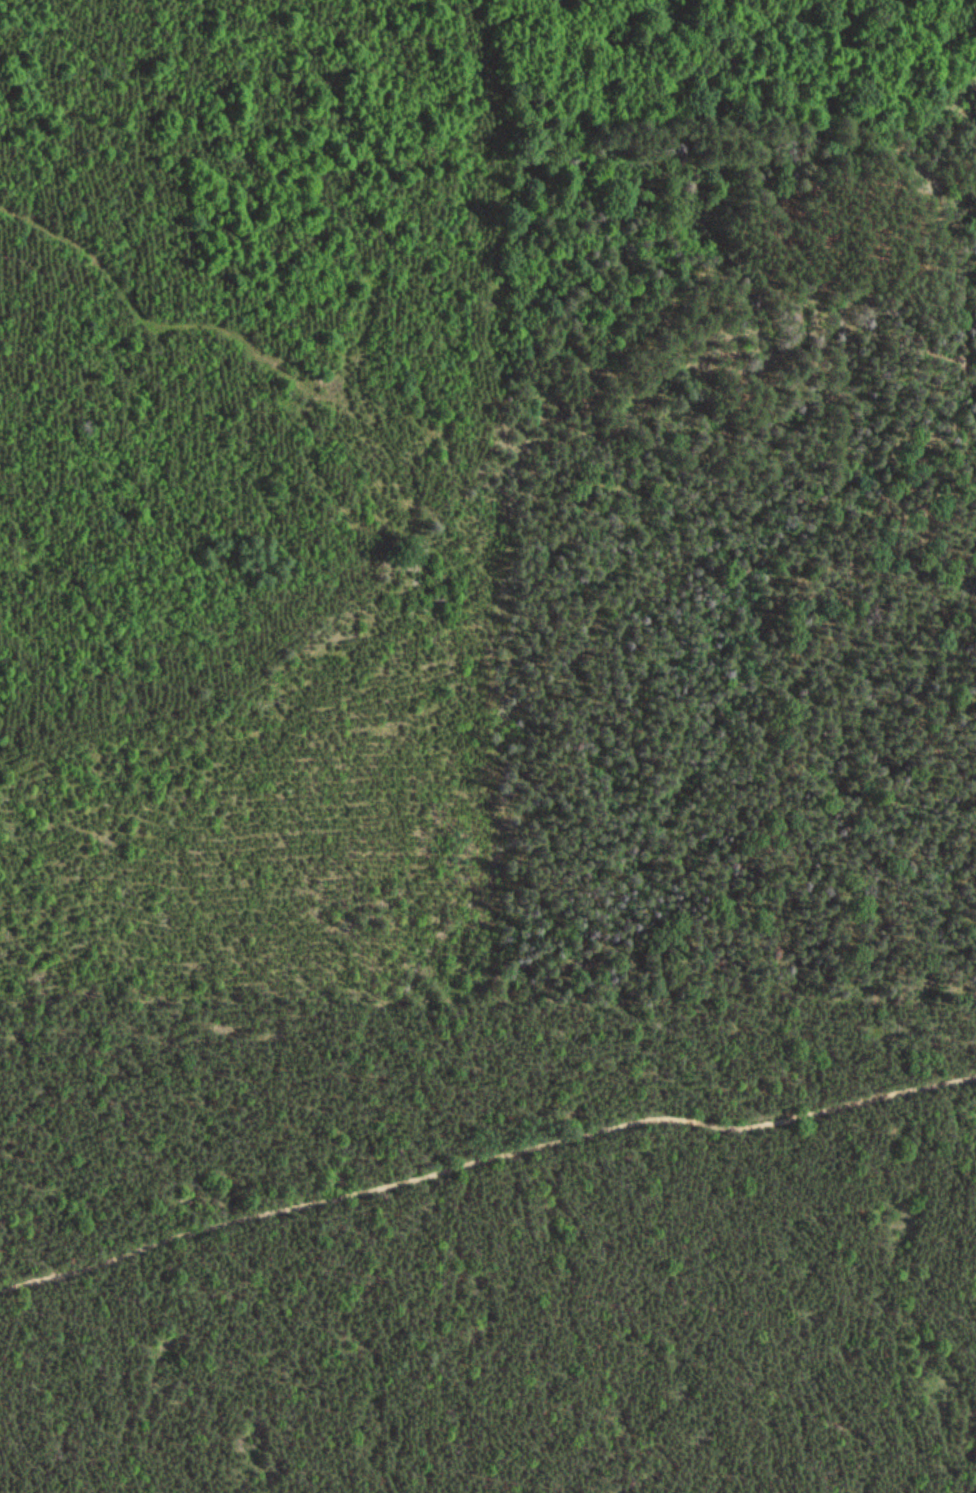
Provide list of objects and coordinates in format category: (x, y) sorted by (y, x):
road: (485, 1156)

